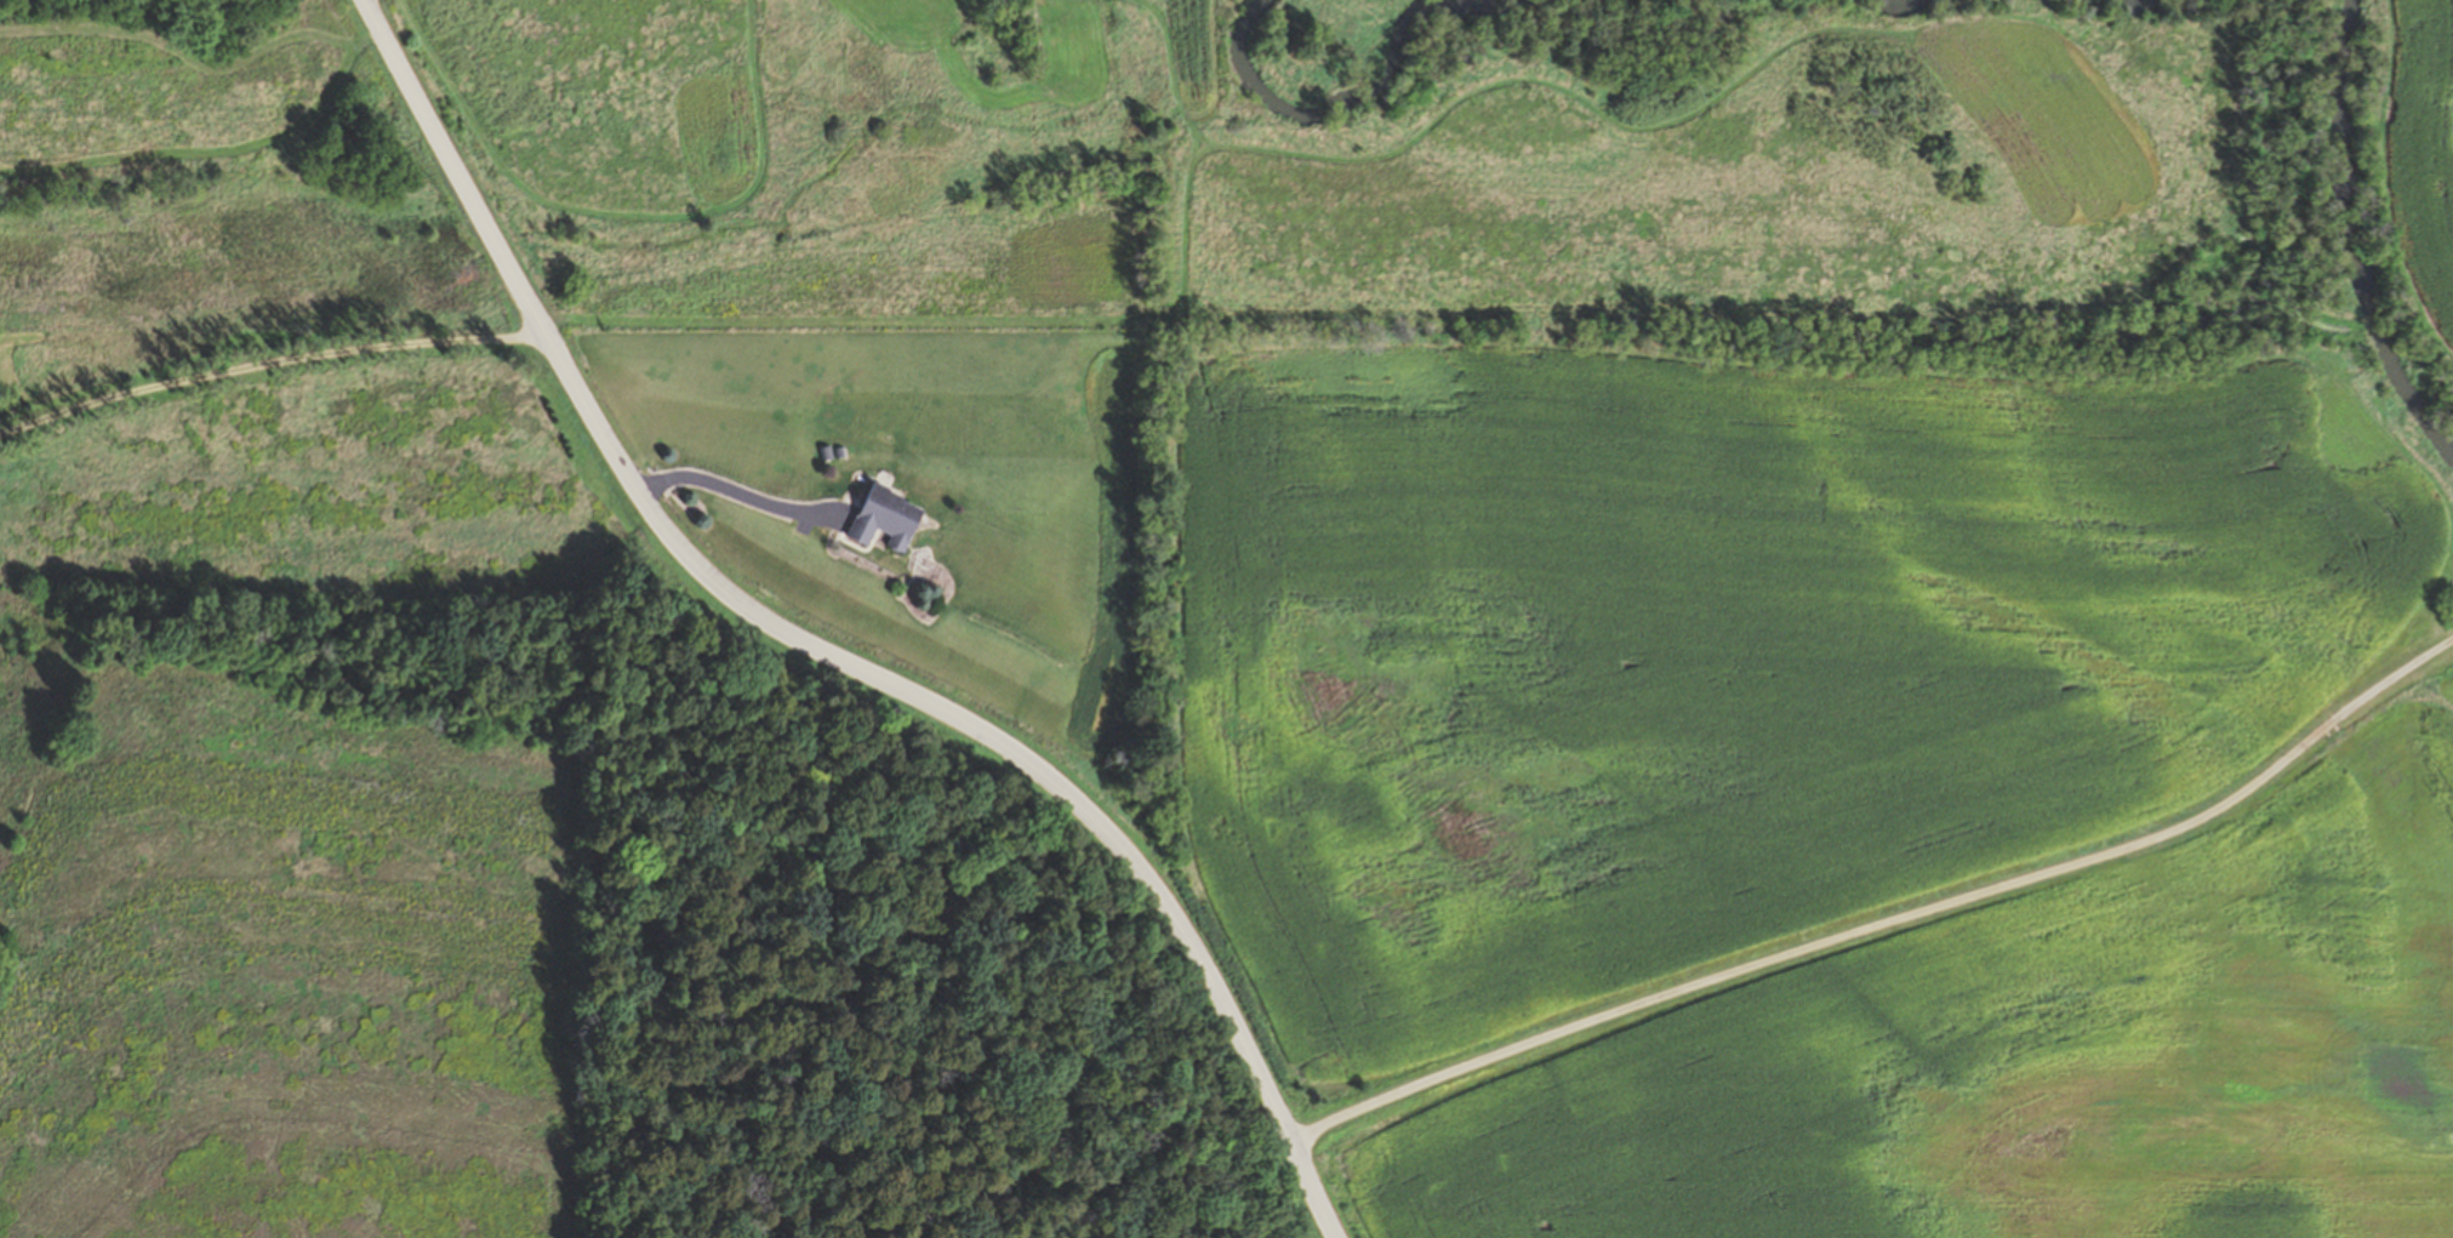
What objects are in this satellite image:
river: (1392, 62)
river: (2368, 239)
road: (269, 364)
road: (741, 494)
building: (889, 518)
road: (820, 651)
road: (1878, 935)

